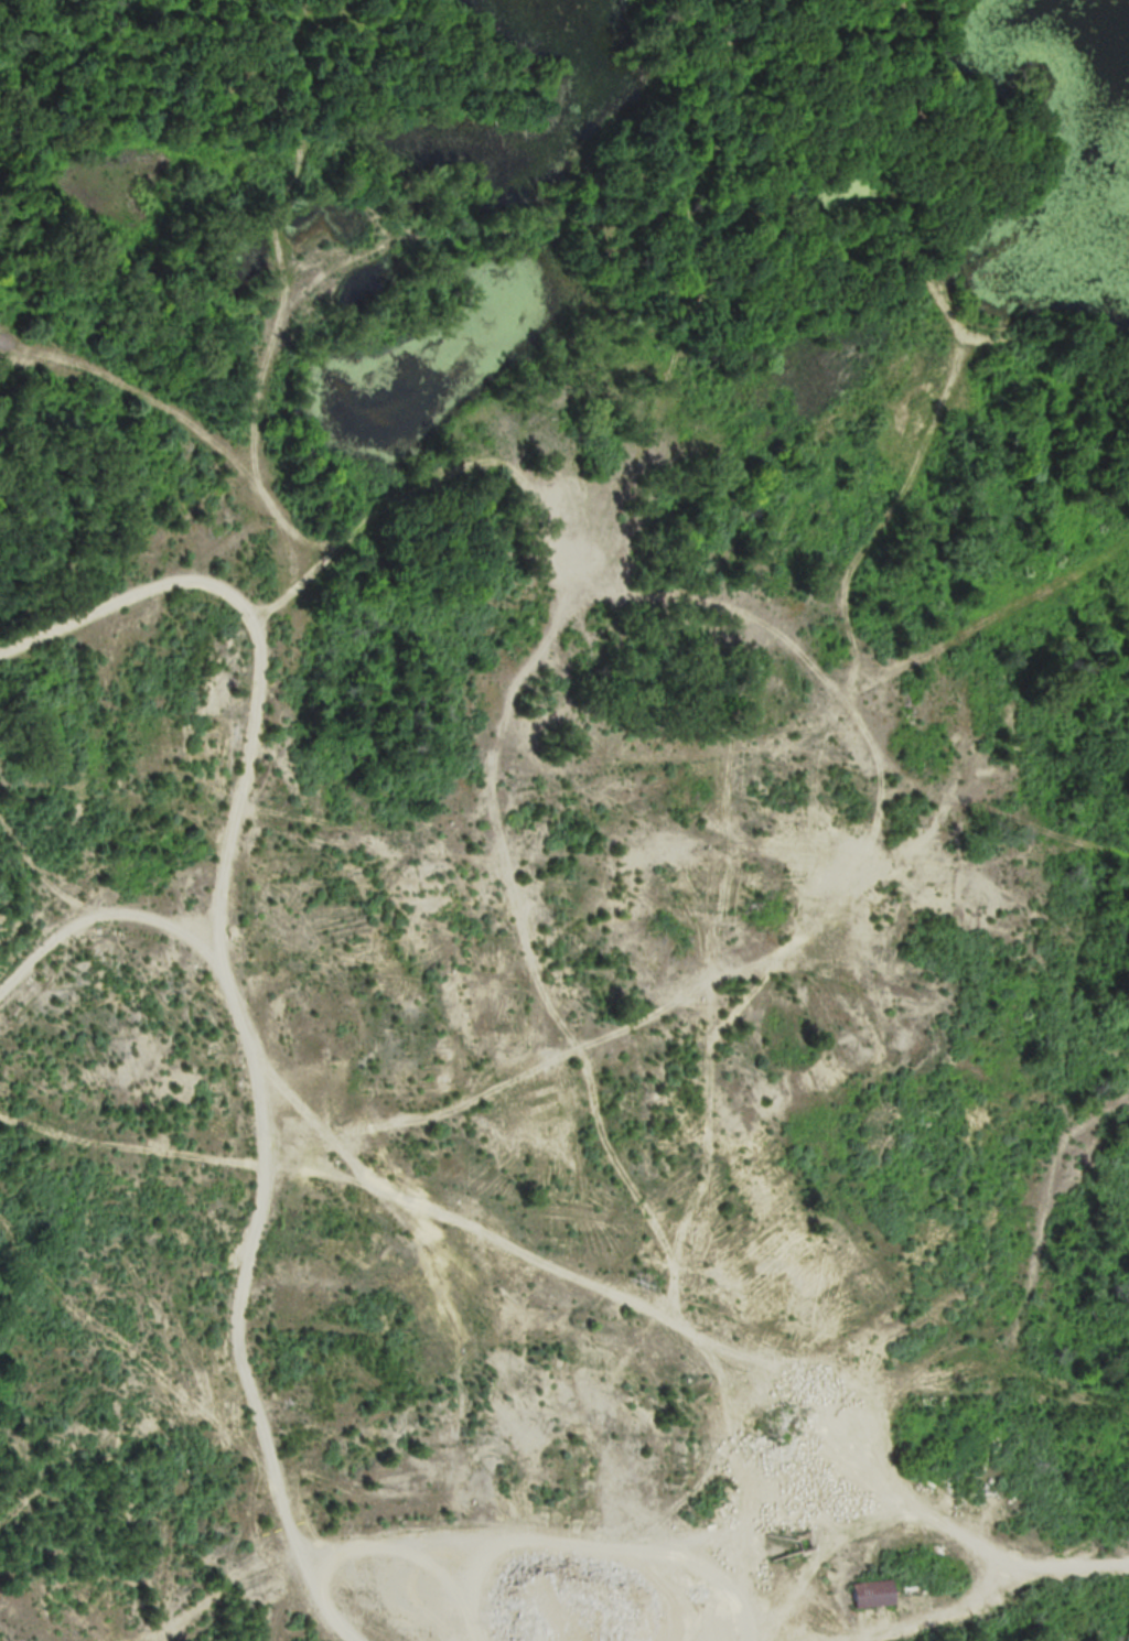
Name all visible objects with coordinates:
road: (992, 1570)
building: (869, 1591)

